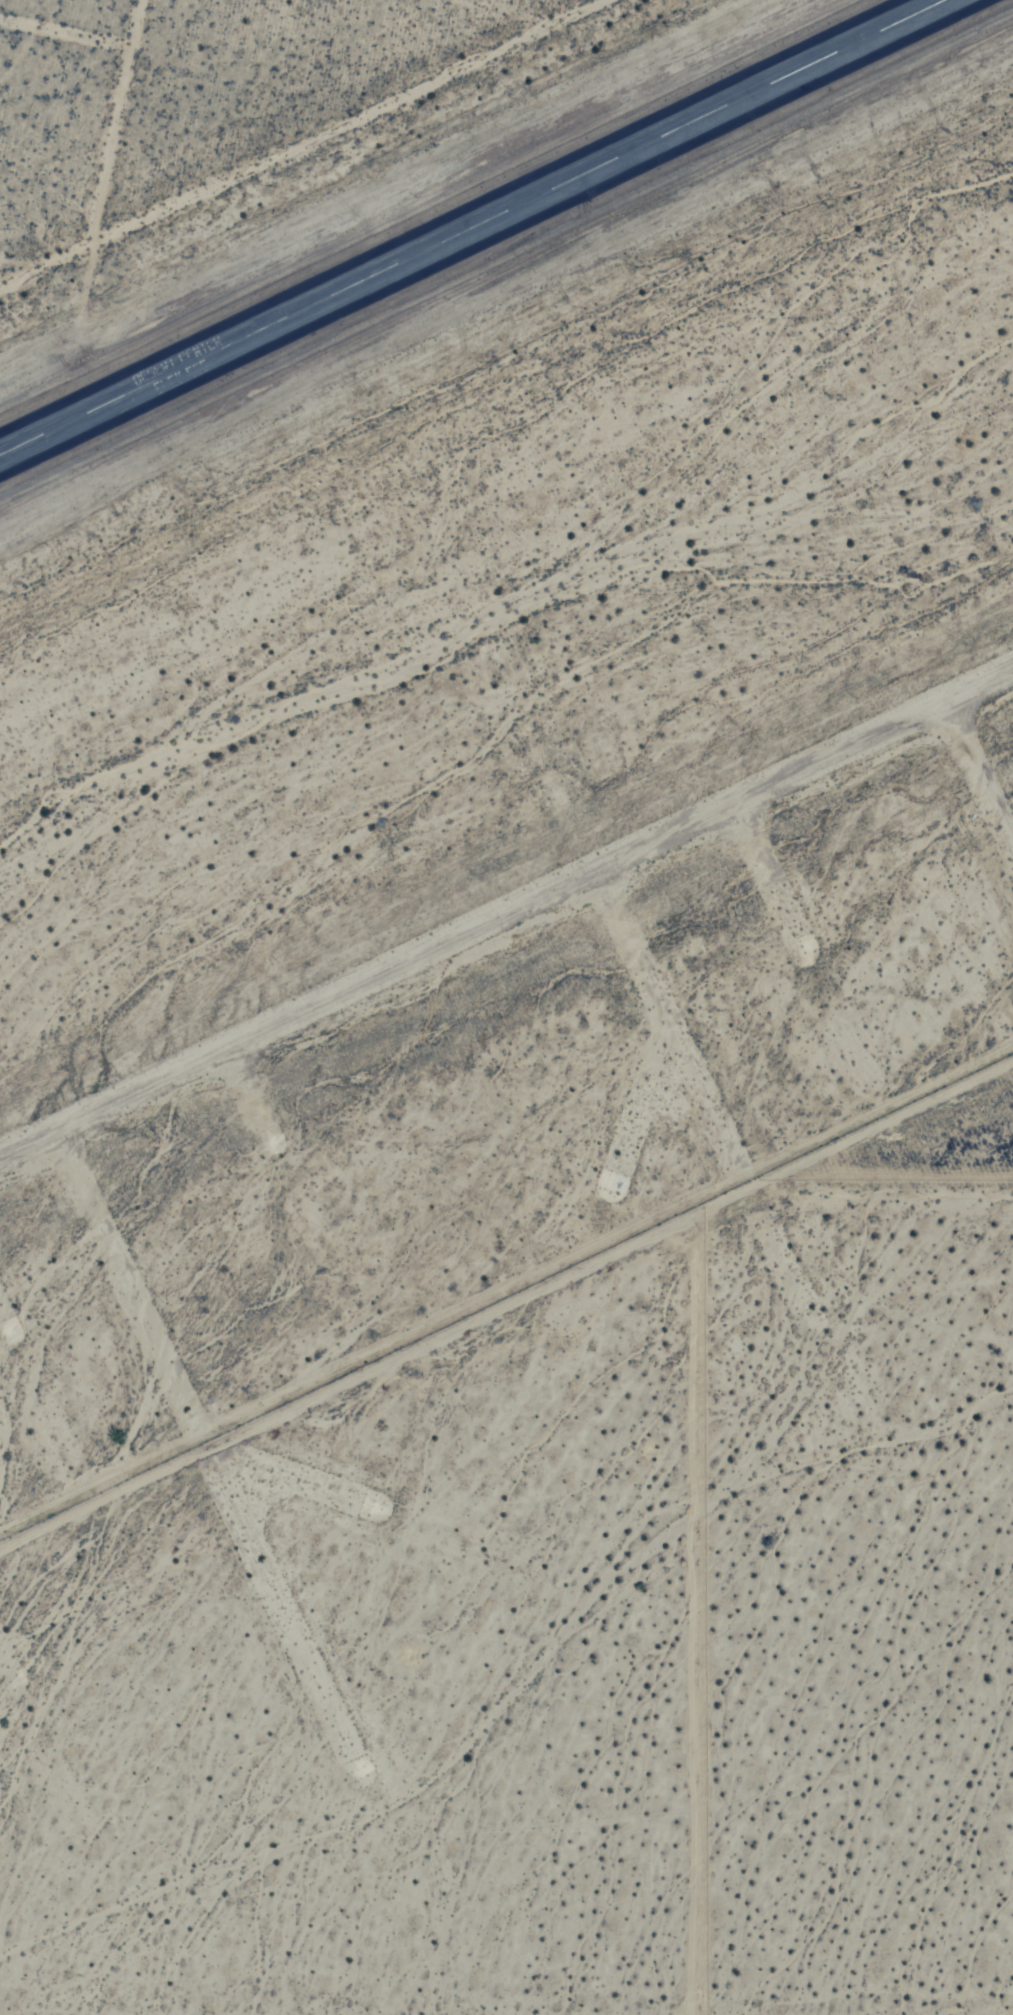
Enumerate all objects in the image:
airport runway: (469, 226)
airport: (451, 251)
crop: (564, 1644)

